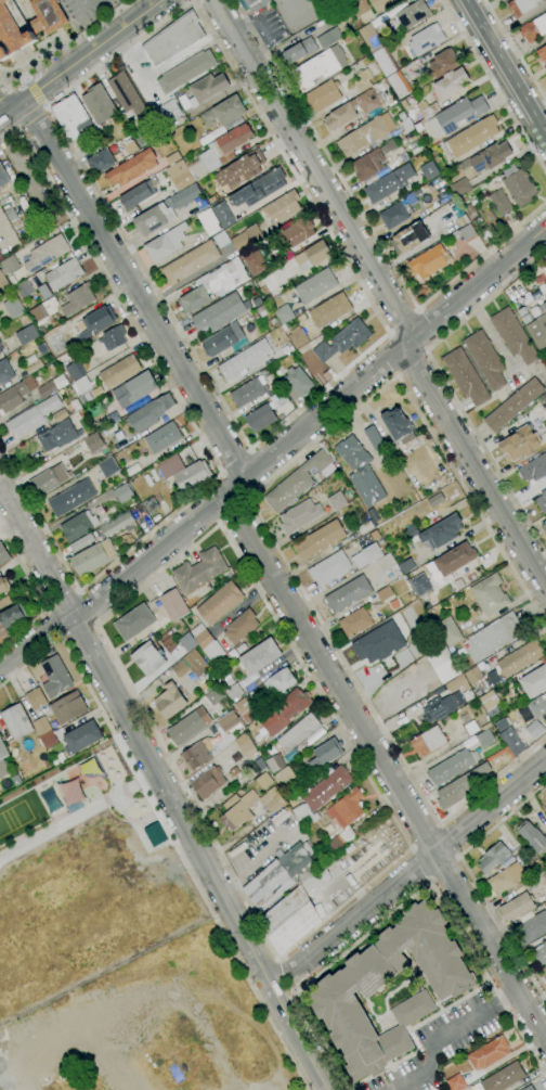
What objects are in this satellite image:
road: (193, 1)
building: (256, 4)
building: (381, 4)
building: (521, 7)
building: (413, 14)
building: (47, 16)
parking lot: (268, 25)
building: (534, 28)
road: (266, 29)
building: (13, 30)
building: (370, 37)
building: (173, 38)
building: (328, 38)
building: (426, 39)
road: (63, 48)
road: (516, 50)
building: (299, 51)
building: (542, 53)
road: (86, 54)
building: (385, 62)
building: (443, 63)
building: (318, 67)
road: (505, 67)
building: (186, 70)
road: (26, 78)
building: (363, 80)
building: (399, 84)
building: (451, 84)
road: (494, 85)
building: (208, 87)
road: (246, 89)
road: (35, 91)
road: (3, 92)
road: (1, 93)
building: (125, 93)
building: (323, 97)
building: (404, 103)
road: (44, 104)
building: (99, 104)
road: (44, 107)
road: (4, 108)
building: (353, 108)
building: (427, 108)
building: (167, 113)
building: (225, 113)
road: (4, 114)
building: (402, 115)
building: (456, 116)
road: (29, 117)
building: (73, 118)
building: (405, 124)
building: (418, 127)
road: (17, 129)
building: (394, 132)
building: (365, 134)
building: (471, 137)
building: (388, 146)
building: (219, 152)
building: (432, 153)
building: (491, 156)
building: (172, 157)
building: (101, 161)
building: (368, 165)
building: (131, 168)
building: (240, 169)
building: (429, 170)
building: (180, 175)
building: (3, 178)
building: (389, 183)
building: (518, 185)
building: (459, 187)
building: (260, 189)
building: (417, 192)
building: (136, 194)
building: (186, 195)
building: (211, 200)
building: (500, 202)
building: (282, 206)
building: (222, 213)
building: (11, 214)
building: (472, 214)
building: (394, 215)
building: (153, 219)
building: (208, 221)
building: (16, 225)
road: (368, 226)
building: (296, 233)
building: (468, 233)
building: (246, 238)
building: (409, 238)
building: (221, 239)
building: (165, 244)
building: (45, 253)
building: (312, 256)
building: (545, 257)
building: (191, 261)
building: (255, 261)
building: (429, 261)
building: (10, 265)
building: (545, 268)
building: (63, 274)
building: (3, 283)
building: (213, 284)
building: (315, 285)
building: (545, 285)
building: (23, 290)
building: (44, 291)
road: (387, 293)
road: (114, 294)
building: (78, 298)
building: (545, 298)
building: (13, 307)
building: (263, 309)
building: (43, 310)
building: (329, 310)
building: (522, 311)
building: (219, 312)
building: (284, 313)
building: (525, 318)
building: (97, 321)
building: (41, 329)
building: (537, 331)
building: (26, 334)
building: (513, 335)
building: (297, 336)
building: (113, 337)
building: (223, 339)
building: (343, 339)
building: (54, 342)
building: (0, 343)
building: (1, 349)
building: (285, 349)
road: (194, 355)
building: (245, 359)
building: (485, 359)
building: (31, 363)
building: (75, 370)
building: (5, 371)
building: (119, 371)
building: (266, 372)
building: (465, 376)
building: (298, 383)
road: (444, 385)
building: (52, 386)
building: (81, 386)
building: (134, 389)
building: (248, 392)
building: (15, 395)
building: (75, 405)
building: (513, 405)
building: (80, 413)
building: (148, 413)
building: (60, 415)
building: (31, 416)
building: (260, 418)
road: (309, 423)
building: (100, 424)
building: (399, 427)
building: (57, 435)
building: (162, 438)
building: (92, 443)
building: (519, 444)
building: (376, 445)
road: (249, 451)
building: (352, 453)
road: (237, 465)
building: (106, 467)
building: (533, 469)
building: (119, 475)
road: (223, 475)
building: (192, 476)
building: (48, 479)
building: (296, 482)
building: (123, 492)
building: (71, 497)
road: (246, 499)
building: (337, 501)
building: (542, 501)
building: (149, 504)
road: (247, 504)
road: (255, 512)
road: (234, 513)
building: (299, 515)
road: (218, 521)
road: (220, 522)
building: (377, 523)
building: (116, 524)
building: (78, 525)
building: (366, 527)
building: (544, 528)
building: (412, 531)
building: (442, 531)
building: (375, 535)
building: (318, 540)
building: (81, 542)
road: (36, 550)
building: (3, 554)
building: (366, 555)
building: (93, 557)
building: (451, 562)
building: (406, 566)
building: (329, 568)
building: (199, 569)
road: (270, 573)
building: (420, 585)
building: (3, 586)
road: (87, 586)
building: (383, 593)
road: (38, 594)
building: (348, 594)
building: (490, 594)
building: (412, 597)
building: (220, 603)
building: (173, 604)
building: (11, 617)
building: (134, 621)
building: (355, 621)
building: (240, 626)
building: (197, 630)
building: (448, 631)
building: (493, 637)
road: (34, 640)
building: (379, 643)
building: (208, 645)
building: (240, 647)
building: (260, 656)
building: (520, 657)
building: (148, 658)
building: (195, 663)
building: (442, 663)
building: (180, 668)
building: (473, 676)
building: (55, 677)
building: (493, 677)
building: (227, 679)
building: (279, 681)
building: (534, 681)
building: (457, 683)
building: (439, 690)
building: (234, 691)
building: (213, 695)
building: (36, 698)
building: (169, 701)
building: (489, 701)
building: (68, 707)
building: (441, 707)
building: (538, 707)
building: (245, 709)
building: (285, 711)
building: (16, 721)
building: (188, 727)
building: (535, 727)
building: (470, 728)
building: (44, 732)
building: (299, 732)
building: (81, 736)
building: (484, 738)
building: (428, 740)
building: (511, 742)
building: (211, 743)
building: (245, 745)
building: (325, 754)
building: (61, 757)
building: (3, 760)
building: (274, 762)
building: (48, 764)
building: (260, 764)
building: (452, 766)
building: (234, 771)
building: (284, 777)
building: (262, 780)
building: (208, 782)
building: (326, 787)
building: (69, 791)
building: (452, 793)
building: (294, 800)
road: (171, 802)
building: (273, 805)
road: (490, 806)
building: (301, 812)
building: (235, 816)
building: (279, 817)
building: (314, 818)
building: (344, 818)
road: (165, 829)
building: (545, 832)
building: (532, 836)
road: (404, 852)
building: (494, 857)
building: (544, 858)
building: (541, 862)
building: (308, 864)
building: (276, 877)
building: (506, 879)
building: (537, 879)
road: (428, 881)
road: (472, 882)
road: (407, 899)
building: (517, 907)
building: (320, 910)
building: (295, 912)
road: (352, 919)
building: (532, 927)
building: (539, 953)
building: (544, 973)
building: (335, 991)
road: (444, 1033)
road: (298, 1038)
building: (490, 1054)
building: (504, 1077)
building: (454, 1079)
building: (529, 1088)

